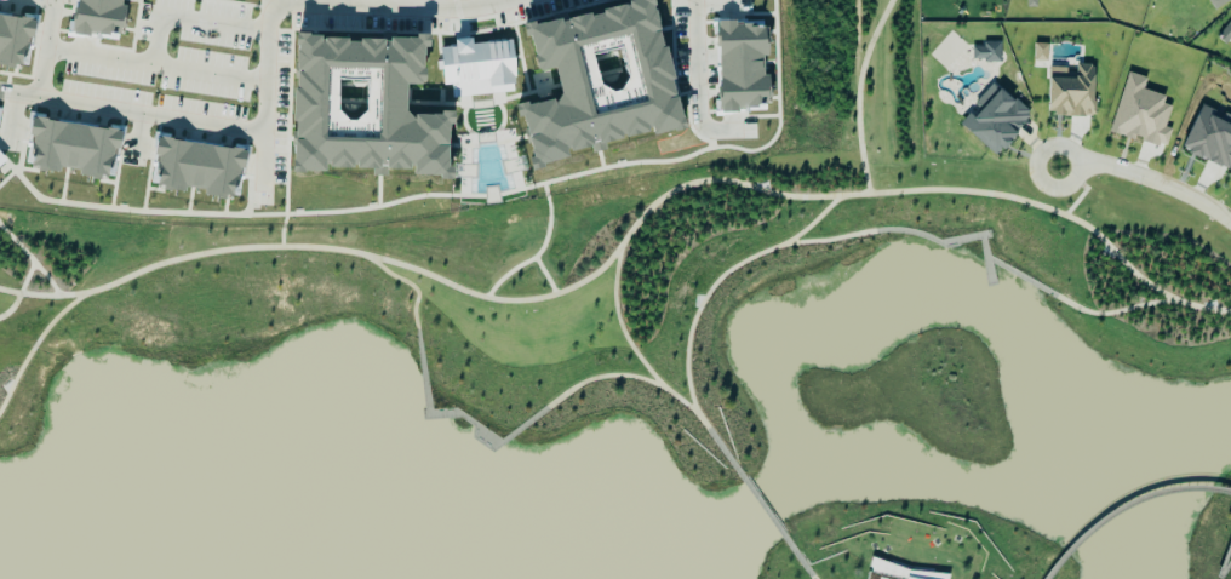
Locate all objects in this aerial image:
road: (42, 0)
building: (1215, 2)
building: (1029, 4)
road: (394, 15)
building: (97, 17)
road: (258, 17)
building: (1224, 33)
building: (12, 40)
road: (691, 55)
road: (35, 58)
building: (737, 64)
road: (258, 68)
building: (474, 68)
road: (204, 73)
building: (592, 81)
building: (1069, 91)
road: (857, 93)
building: (357, 108)
building: (1139, 114)
building: (992, 119)
building: (1208, 139)
building: (68, 148)
building: (0, 160)
building: (195, 168)
road: (1146, 176)
road: (1083, 187)
road: (281, 230)
road: (832, 240)
pier: (932, 240)
road: (612, 251)
road: (1113, 253)
road: (750, 256)
road: (529, 260)
pier: (985, 260)
road: (36, 268)
road: (153, 268)
road: (28, 270)
road: (544, 276)
pier: (1020, 277)
road: (410, 283)
road: (1111, 313)
road: (619, 320)
road: (596, 377)
road: (675, 397)
road: (453, 413)
road: (762, 506)
road: (1124, 506)
park: (911, 545)
road: (797, 557)
road: (1224, 557)
road: (1224, 568)
building: (893, 572)

